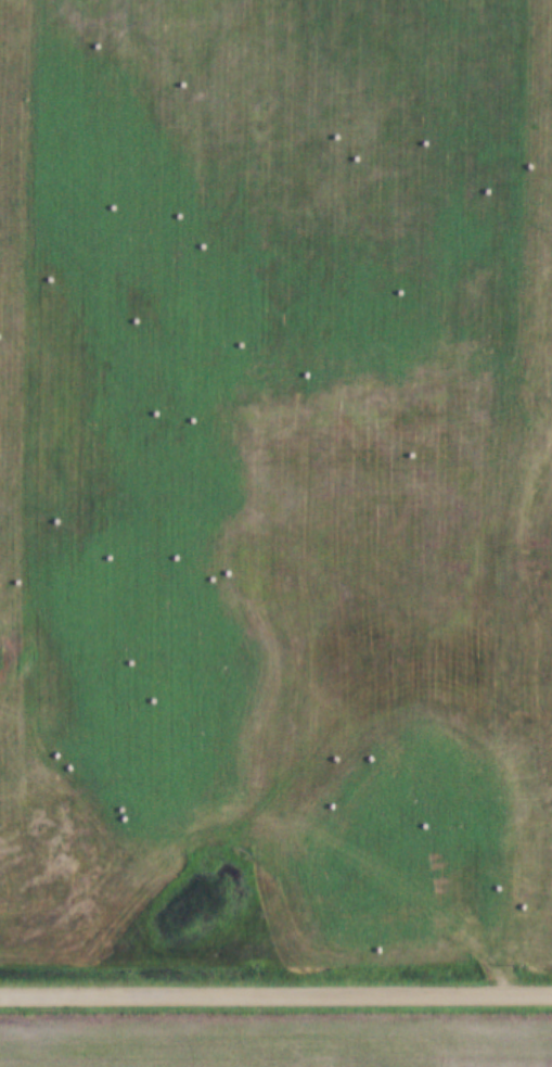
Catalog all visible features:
road: (275, 994)

